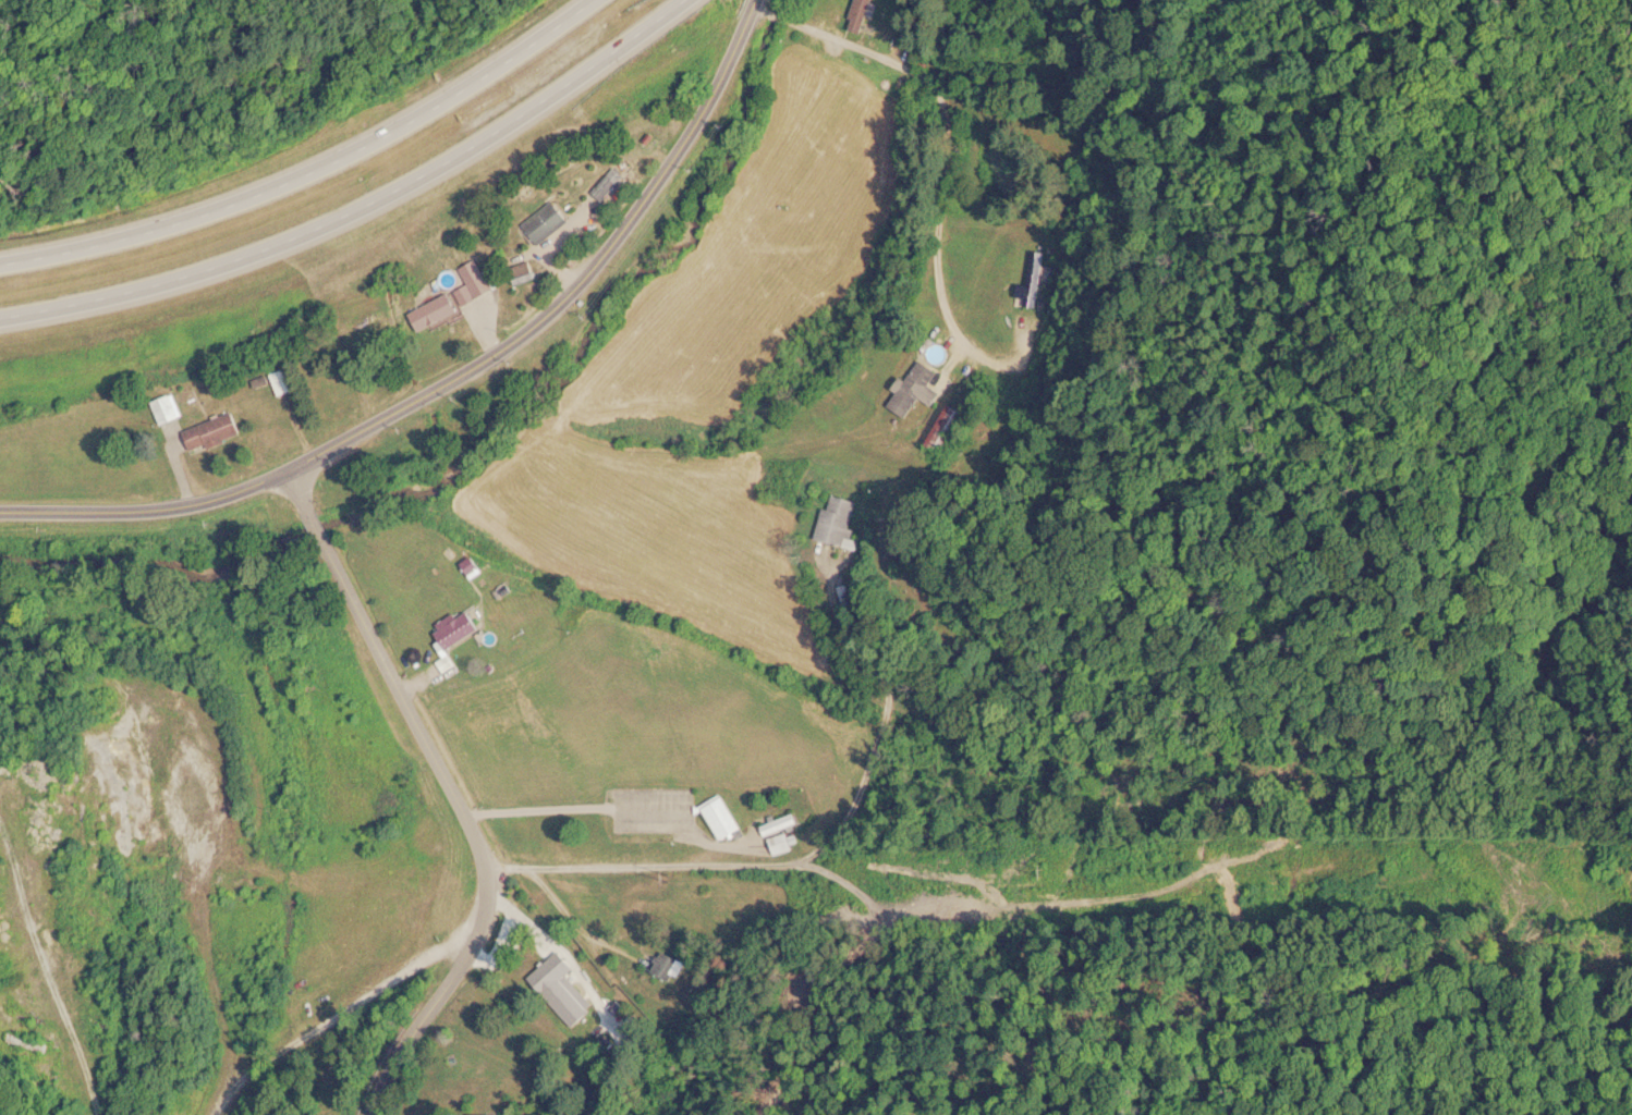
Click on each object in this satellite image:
building: (862, 11)
road: (939, 101)
road: (314, 171)
building: (610, 184)
road: (364, 205)
building: (550, 222)
building: (524, 274)
building: (477, 280)
building: (1033, 281)
building: (439, 309)
road: (459, 372)
building: (284, 381)
building: (916, 388)
building: (169, 408)
building: (946, 429)
building: (215, 431)
building: (838, 522)
building: (848, 599)
building: (459, 627)
road: (438, 791)
building: (722, 818)
road: (734, 828)
building: (780, 833)
building: (668, 966)
building: (560, 988)
building: (28, 1042)

